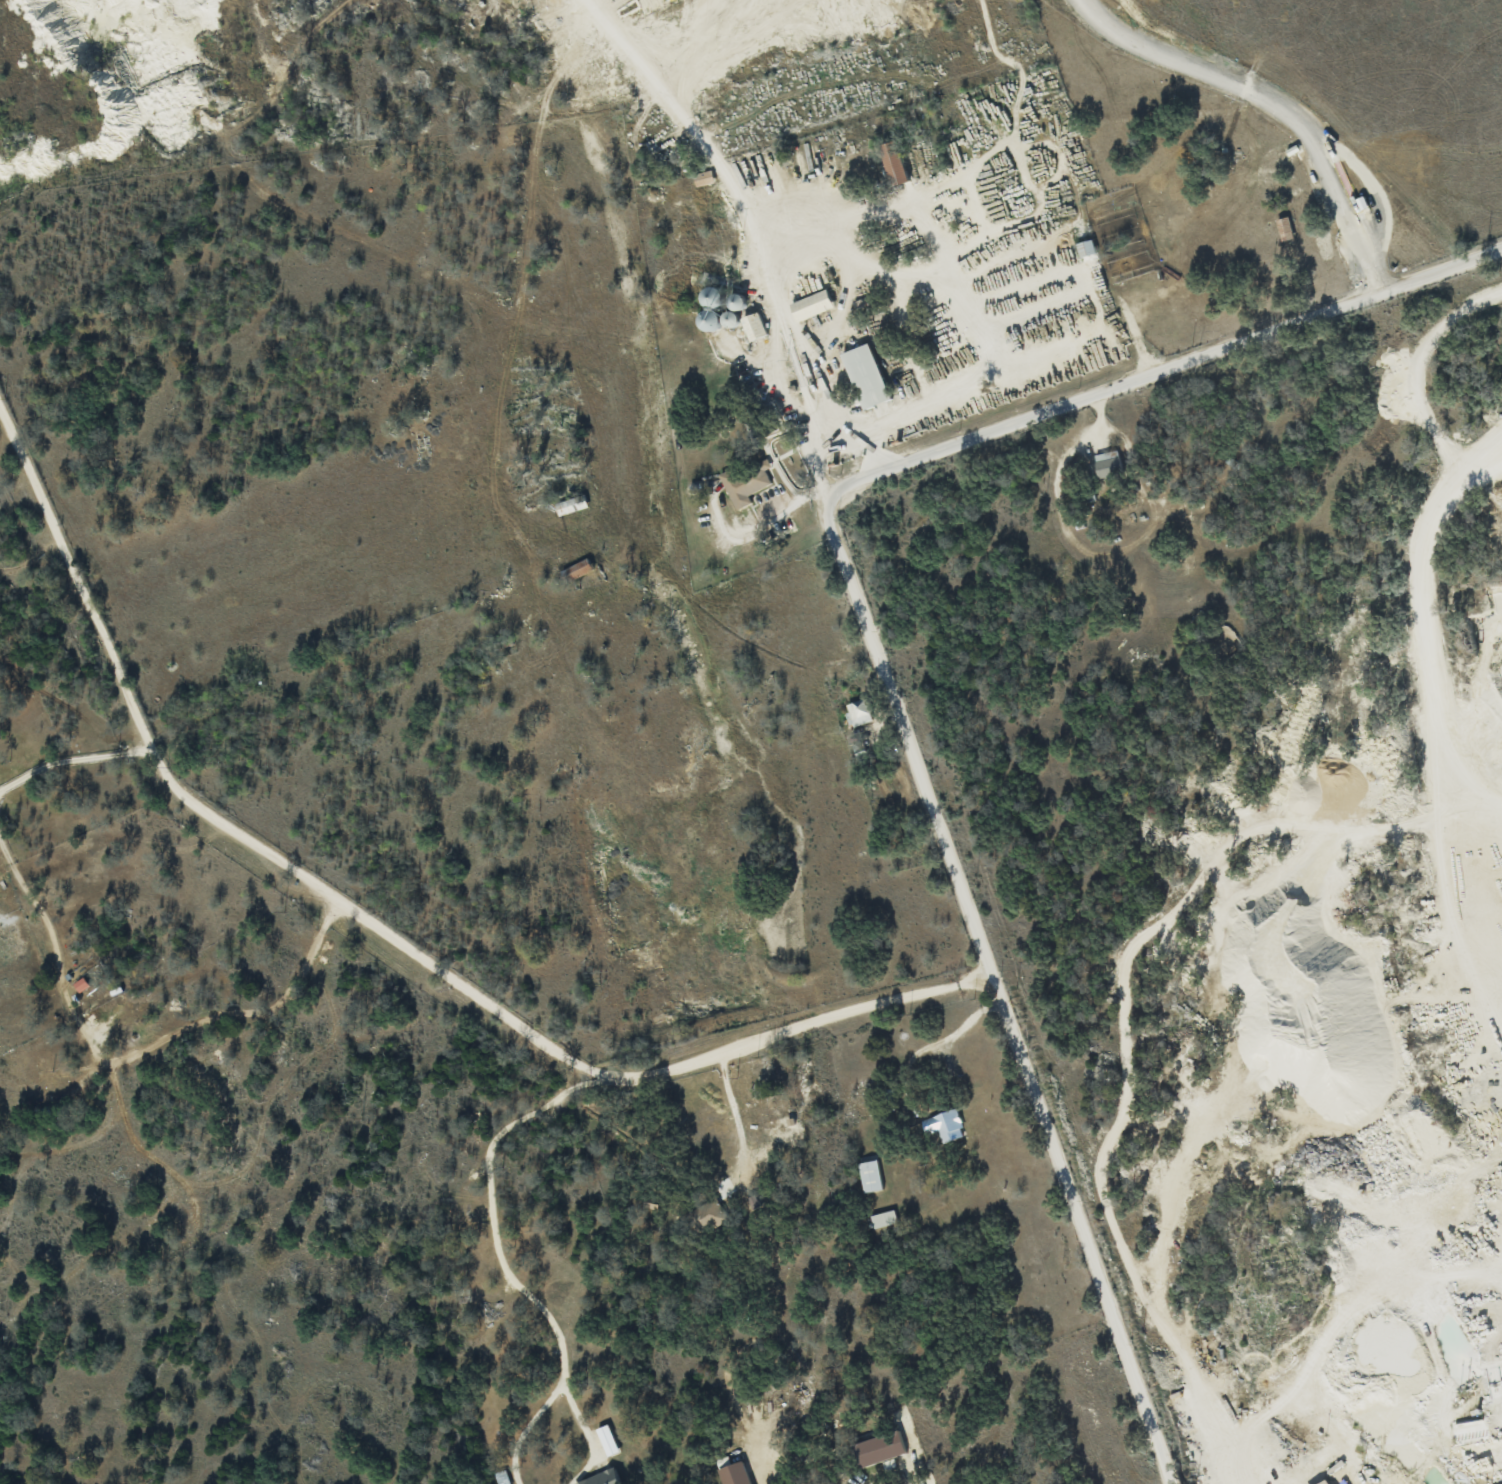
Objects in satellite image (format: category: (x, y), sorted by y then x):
building: (702, 178)
building: (1283, 228)
building: (1084, 248)
quarry: (495, 269)
building: (810, 305)
building: (752, 326)
building: (863, 375)
building: (1106, 462)
building: (743, 482)
road: (1420, 589)
road: (874, 651)
building: (858, 711)
road: (71, 757)
road: (382, 928)
building: (96, 1006)
road: (958, 1029)
road: (133, 1054)
quarry: (1348, 1088)
road: (734, 1111)
building: (943, 1125)
building: (868, 1175)
road: (490, 1199)
building: (707, 1214)
building: (882, 1218)
building: (605, 1440)
building: (878, 1448)
building: (733, 1474)
building: (600, 1478)
building: (1324, 1482)

